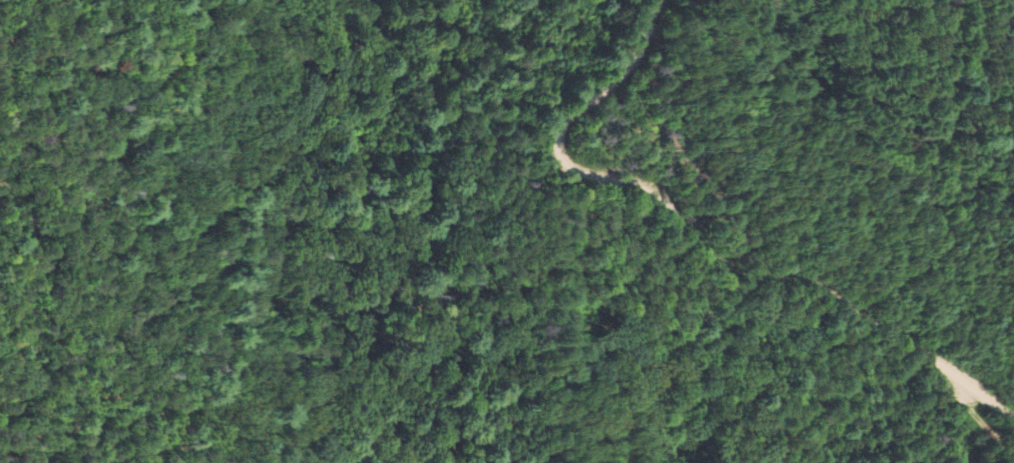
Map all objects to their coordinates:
road: (698, 244)

